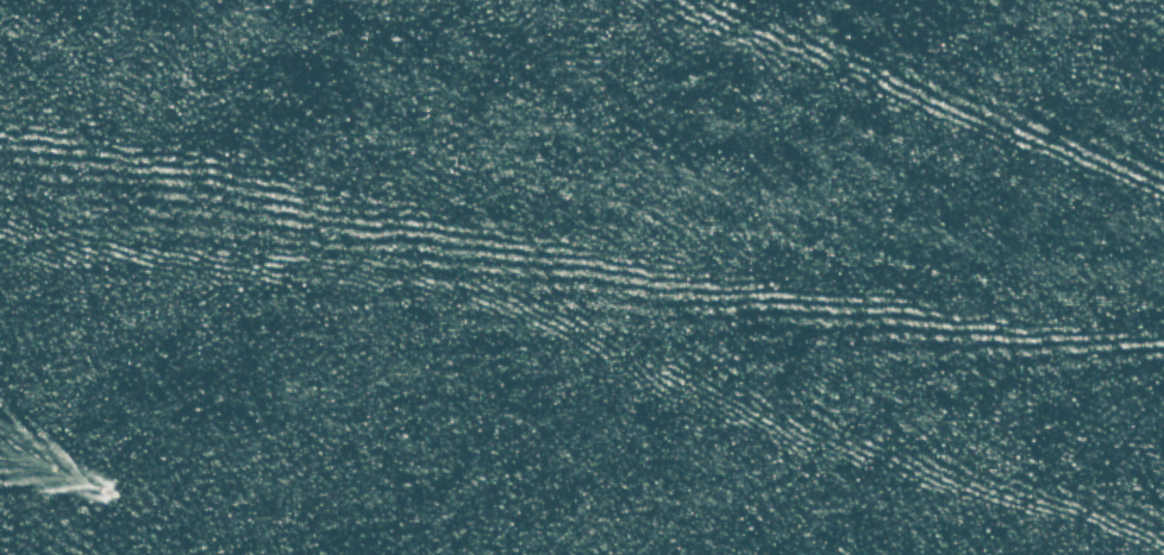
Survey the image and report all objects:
river: (730, 135)

